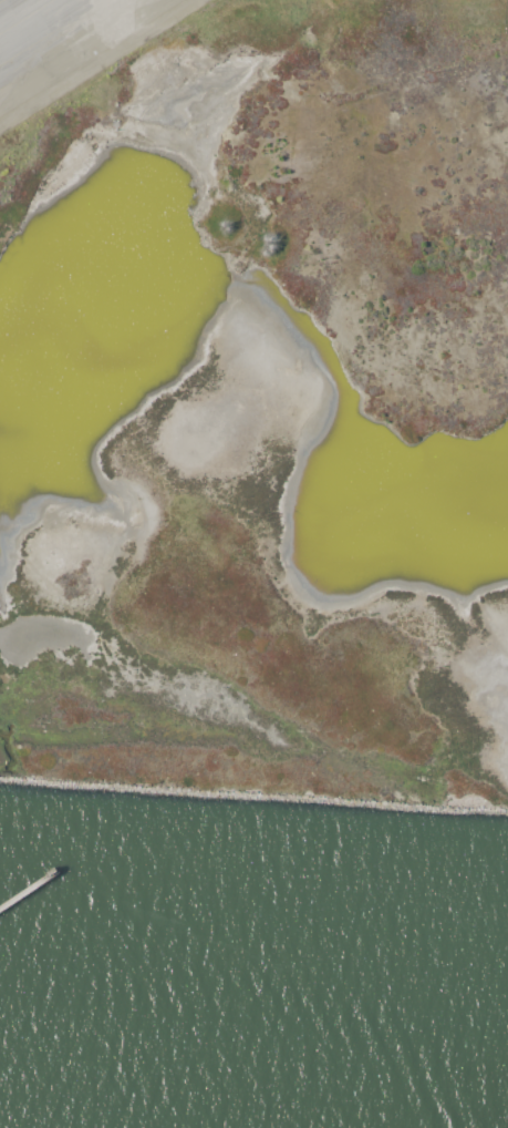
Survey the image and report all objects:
road: (100, 64)
pier: (28, 892)

